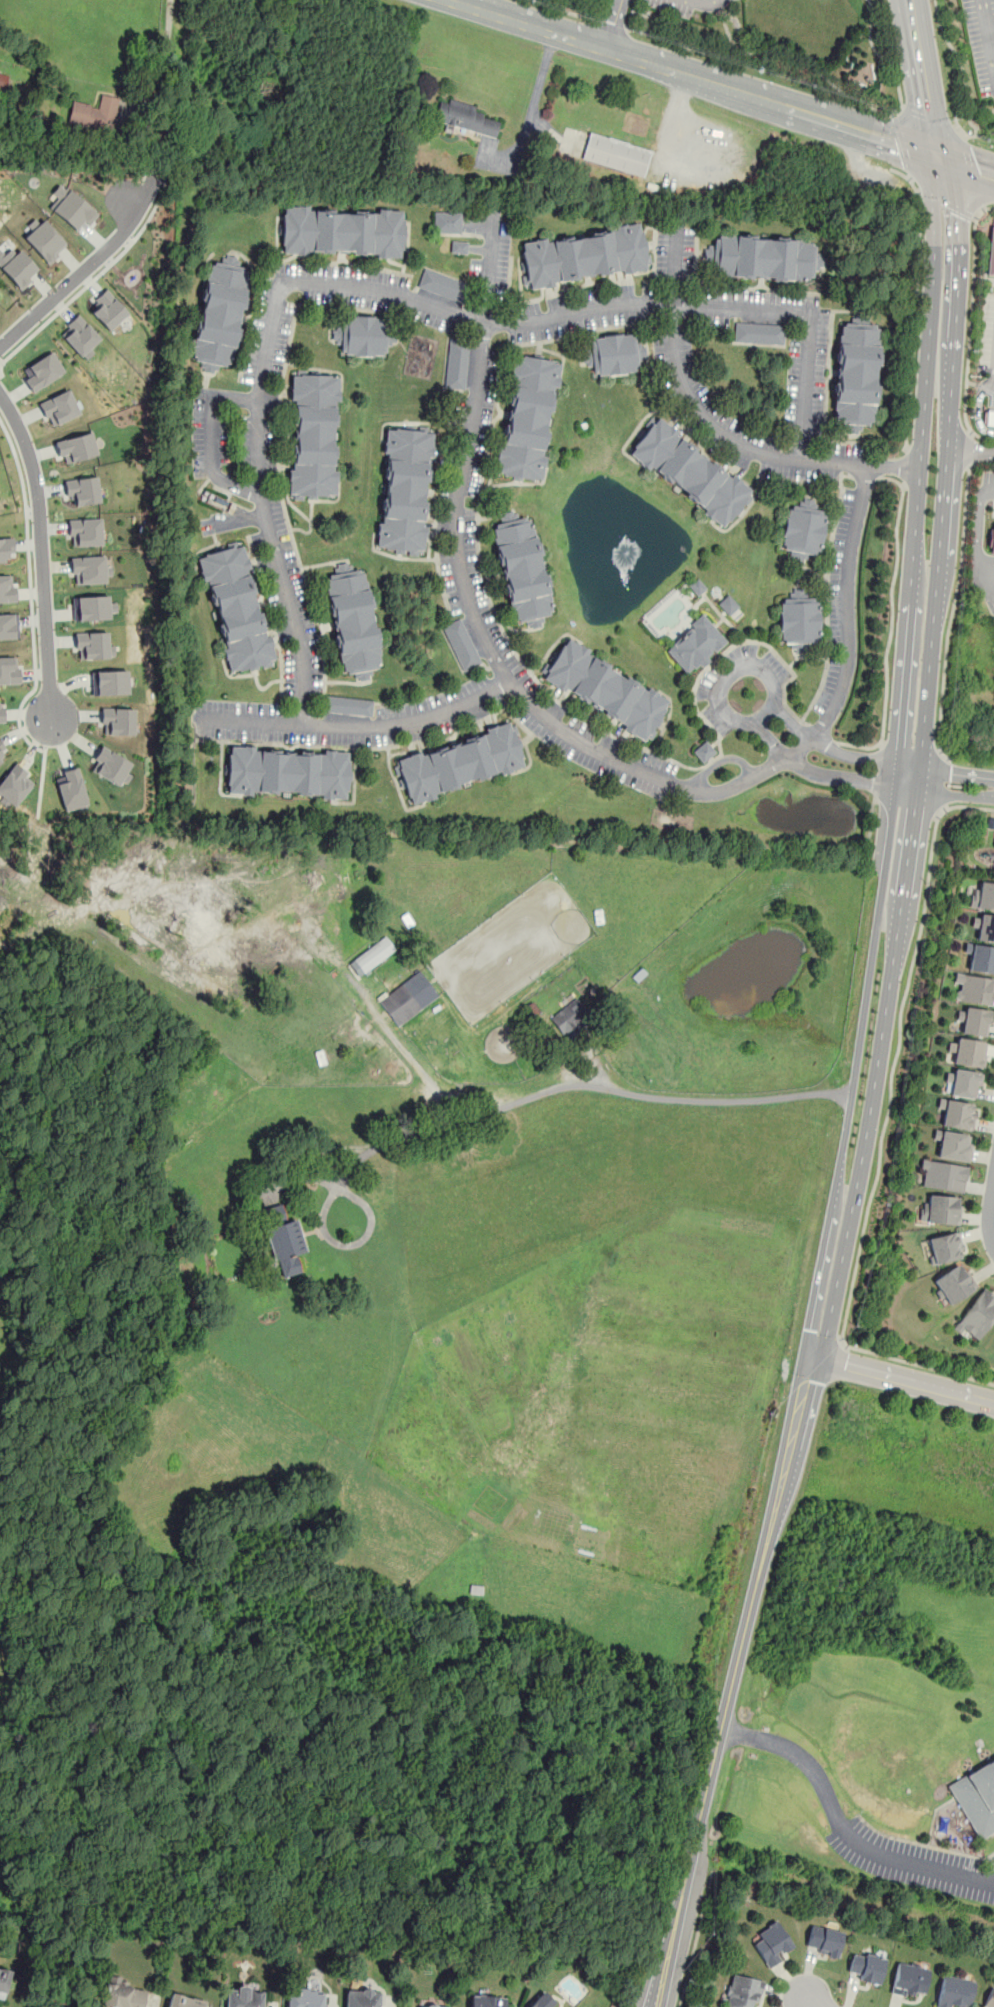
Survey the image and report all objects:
road: (703, 1)
road: (566, 11)
road: (610, 23)
road: (612, 25)
road: (988, 31)
road: (156, 54)
road: (961, 63)
road: (823, 76)
road: (912, 78)
road: (696, 79)
building: (3, 81)
road: (934, 81)
road: (531, 109)
building: (94, 112)
road: (930, 118)
building: (466, 119)
road: (664, 127)
road: (976, 135)
road: (900, 145)
building: (615, 154)
road: (970, 155)
road: (971, 168)
road: (968, 180)
road: (945, 203)
building: (70, 207)
building: (447, 221)
building: (342, 231)
building: (43, 239)
building: (458, 246)
building: (584, 255)
building: (992, 255)
gas station: (992, 255)
building: (761, 257)
building: (16, 266)
road: (75, 278)
road: (91, 280)
building: (442, 285)
road: (396, 296)
building: (0, 297)
road: (913, 302)
building: (108, 309)
road: (971, 311)
building: (220, 313)
building: (759, 334)
building: (363, 335)
building: (80, 336)
building: (613, 354)
road: (0, 363)
building: (456, 364)
building: (42, 371)
building: (855, 376)
road: (986, 393)
building: (59, 407)
road: (977, 417)
building: (527, 418)
building: (989, 420)
road: (715, 428)
building: (312, 435)
road: (213, 436)
road: (981, 437)
building: (76, 447)
road: (968, 448)
road: (971, 448)
road: (905, 466)
building: (689, 472)
building: (404, 489)
building: (82, 490)
road: (988, 490)
building: (802, 529)
building: (84, 531)
building: (991, 540)
road: (977, 546)
building: (5, 547)
road: (41, 557)
building: (89, 568)
building: (521, 569)
building: (697, 586)
building: (7, 589)
road: (30, 593)
road: (953, 601)
building: (728, 604)
building: (92, 607)
building: (235, 608)
building: (352, 621)
building: (798, 621)
building: (8, 626)
building: (460, 643)
building: (695, 644)
building: (93, 645)
road: (723, 653)
building: (8, 670)
building: (109, 682)
building: (606, 689)
building: (347, 705)
building: (0, 709)
building: (117, 721)
road: (747, 721)
road: (356, 724)
road: (560, 725)
road: (829, 748)
building: (2, 752)
building: (704, 752)
road: (896, 760)
building: (460, 762)
building: (109, 765)
road: (920, 766)
road: (878, 769)
building: (286, 771)
road: (816, 771)
road: (940, 779)
road: (41, 780)
road: (944, 782)
building: (14, 784)
building: (70, 789)
building: (990, 823)
road: (871, 829)
building: (982, 894)
building: (984, 927)
building: (371, 956)
building: (980, 957)
building: (973, 988)
building: (409, 998)
building: (569, 1018)
building: (973, 1020)
building: (205, 1047)
building: (968, 1051)
road: (412, 1061)
building: (964, 1081)
road: (575, 1085)
building: (958, 1114)
road: (884, 1126)
building: (953, 1144)
building: (941, 1175)
building: (941, 1209)
road: (988, 1214)
building: (282, 1237)
road: (343, 1244)
building: (945, 1247)
building: (954, 1284)
building: (977, 1315)
traffic signals: (810, 1358)
road: (902, 1381)
road: (729, 1682)
road: (797, 1755)
building: (976, 1797)
road: (912, 1865)
road: (990, 1879)
road: (696, 1939)
building: (823, 1940)
building: (771, 1943)
building: (865, 1966)
building: (908, 1978)
building: (3, 1980)
building: (742, 1991)
building: (954, 1991)
building: (121, 1993)
building: (243, 1996)
building: (304, 1998)
building: (989, 1998)
building: (361, 1999)
road: (808, 1999)
building: (184, 2000)
building: (486, 2001)
building: (538, 2003)
building: (434, 2005)

